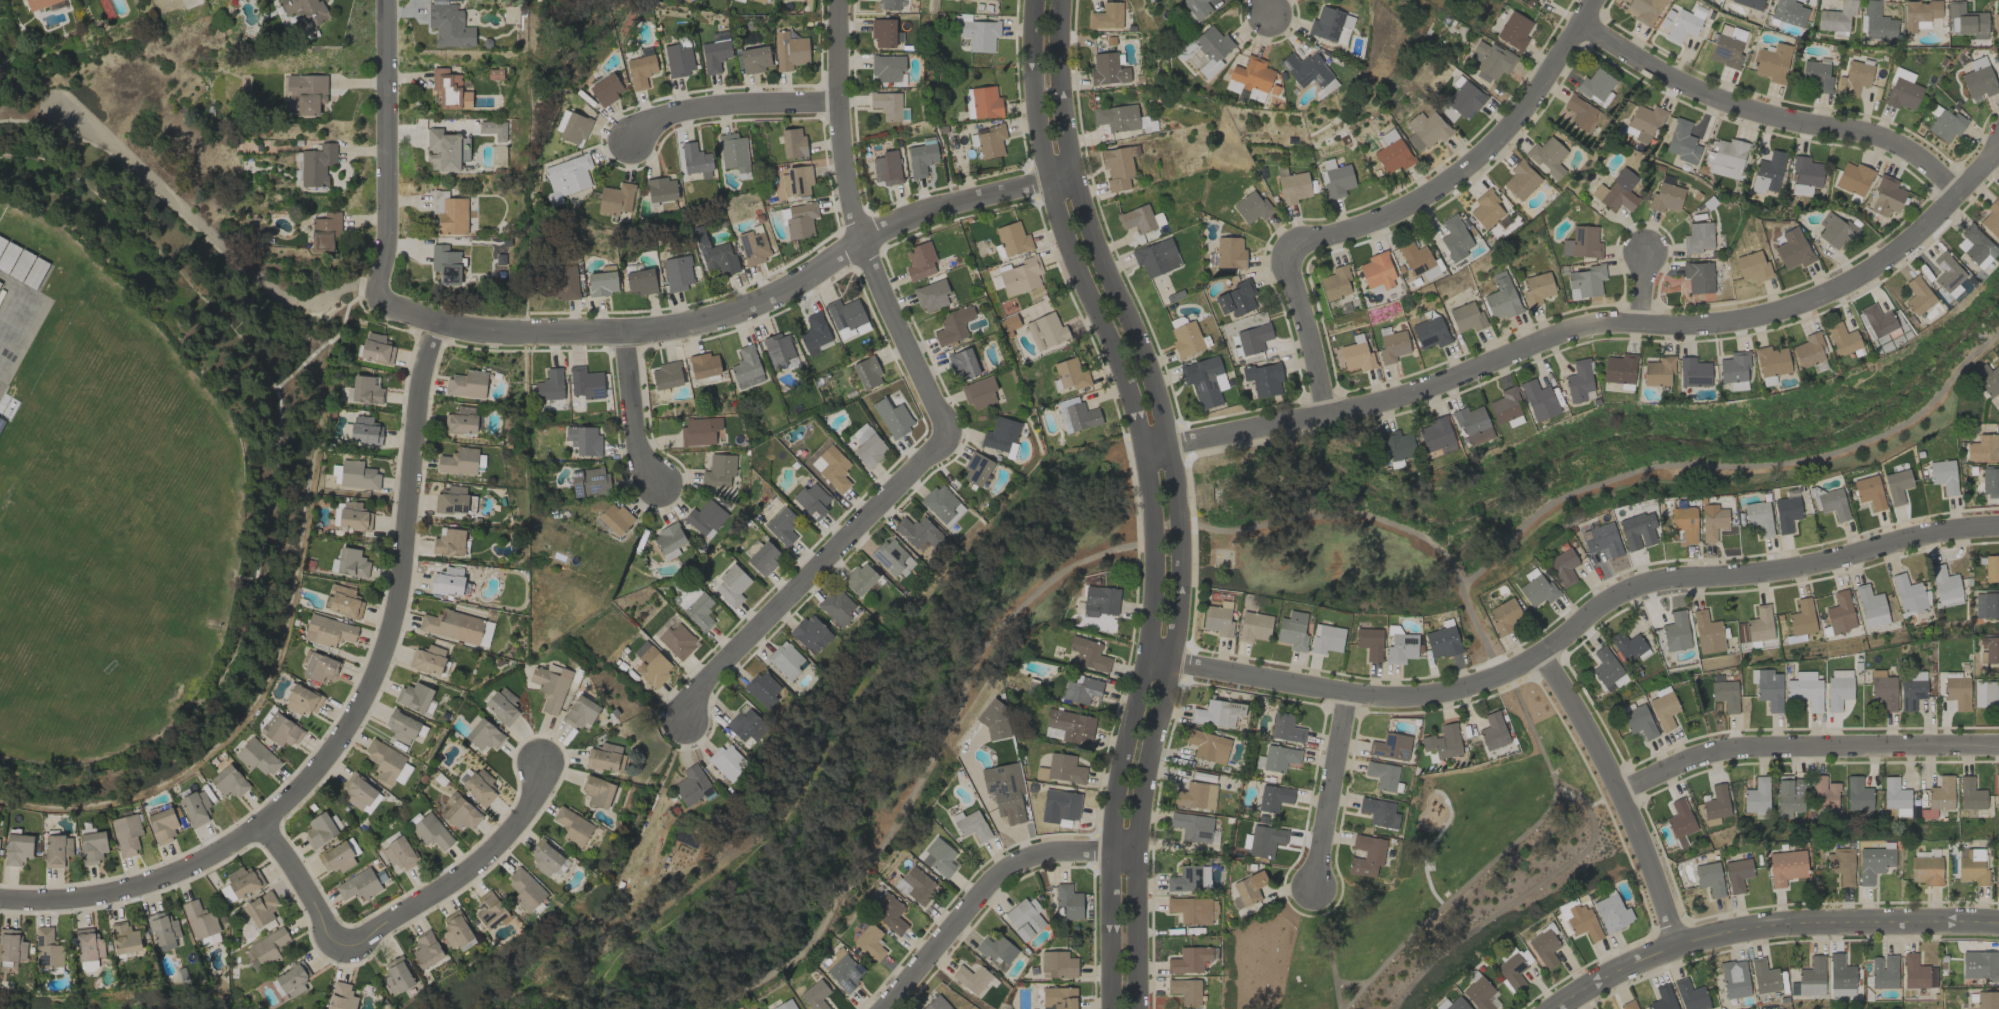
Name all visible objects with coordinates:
building: (759, 0)
building: (39, 3)
building: (1751, 3)
building: (889, 4)
building: (1197, 8)
road: (1262, 10)
building: (1644, 10)
building: (306, 12)
building: (1789, 13)
building: (1920, 14)
building: (1107, 16)
building: (1837, 17)
building: (1966, 21)
building: (1995, 22)
building: (1877, 23)
building: (449, 26)
building: (1682, 26)
building: (1514, 30)
building: (883, 32)
building: (977, 33)
building: (789, 51)
building: (1205, 51)
building: (1726, 51)
building: (715, 52)
building: (755, 59)
building: (678, 60)
building: (1490, 61)
building: (1773, 63)
building: (887, 68)
building: (640, 70)
building: (1108, 70)
building: (1308, 72)
building: (1817, 75)
building: (1854, 78)
building: (1979, 79)
building: (1595, 86)
building: (605, 89)
building: (449, 90)
building: (1902, 91)
building: (307, 93)
building: (1464, 100)
building: (986, 102)
building: (968, 103)
building: (889, 106)
road: (724, 107)
building: (1583, 114)
road: (1769, 116)
building: (1117, 118)
building: (1644, 122)
building: (1945, 124)
building: (574, 127)
building: (493, 129)
building: (1426, 130)
building: (991, 141)
building: (1682, 142)
building: (793, 143)
building: (443, 150)
building: (733, 152)
building: (1391, 152)
building: (1547, 156)
building: (921, 158)
building: (1728, 158)
building: (696, 160)
building: (317, 164)
road: (1472, 164)
building: (1118, 166)
building: (887, 168)
building: (1805, 171)
building: (1767, 173)
building: (567, 177)
building: (1854, 178)
road: (385, 179)
building: (796, 181)
building: (1336, 181)
building: (1520, 181)
building: (1293, 188)
building: (662, 189)
building: (1619, 190)
building: (1886, 196)
building: (1665, 198)
building: (615, 199)
building: (1252, 208)
building: (1486, 209)
building: (449, 213)
building: (1991, 218)
building: (1136, 219)
building: (800, 220)
road: (857, 220)
building: (325, 231)
building: (1835, 231)
road: (208, 234)
building: (1454, 238)
building: (1698, 238)
building: (1013, 239)
building: (1582, 243)
building: (1977, 246)
building: (753, 247)
building: (1792, 249)
building: (1230, 253)
building: (7, 254)
building: (715, 254)
building: (1156, 257)
building: (919, 261)
building: (1753, 267)
building: (28, 268)
building: (1377, 271)
building: (1947, 271)
building: (677, 273)
building: (1021, 276)
building: (1698, 277)
building: (641, 281)
building: (564, 282)
building: (1586, 282)
building: (602, 283)
building: (1335, 283)
road: (1641, 285)
building: (1537, 288)
building: (1949, 293)
road: (764, 295)
building: (931, 295)
building: (1918, 295)
building: (1237, 298)
building: (1502, 298)
building: (1467, 317)
building: (847, 318)
building: (1878, 321)
building: (1009, 324)
building: (953, 325)
road: (1587, 325)
building: (1046, 331)
road: (1305, 331)
building: (1430, 332)
building: (814, 334)
building: (1253, 338)
building: (1186, 339)
building: (1842, 339)
building: (1392, 346)
building: (376, 349)
building: (778, 350)
building: (1808, 350)
building: (1356, 357)
building: (1772, 361)
building: (962, 363)
building: (704, 365)
building: (1735, 367)
building: (746, 368)
building: (1620, 368)
building: (1658, 372)
building: (1693, 372)
building: (867, 373)
building: (1070, 374)
building: (666, 375)
building: (1264, 379)
building: (1987, 379)
building: (1204, 381)
building: (1578, 381)
building: (586, 383)
building: (467, 384)
building: (550, 385)
building: (365, 390)
building: (979, 392)
building: (1539, 401)
building: (1506, 408)
road: (277, 410)
road: (630, 412)
building: (1076, 415)
building: (893, 418)
building: (461, 421)
building: (1473, 425)
building: (700, 431)
building: (1001, 436)
building: (1436, 436)
building: (584, 439)
building: (867, 446)
building: (1397, 447)
building: (1983, 449)
building: (458, 461)
road: (1731, 465)
building: (832, 467)
building: (977, 469)
building: (719, 470)
building: (357, 475)
building: (1943, 476)
park: (1549, 480)
building: (589, 482)
building: (1990, 482)
building: (1897, 486)
building: (1869, 492)
road: (1176, 497)
road: (1147, 498)
building: (452, 500)
building: (812, 501)
building: (1833, 504)
building: (942, 505)
building: (1786, 513)
building: (354, 516)
building: (705, 517)
building: (615, 518)
building: (1758, 518)
road: (1381, 520)
building: (1712, 521)
building: (1684, 523)
building: (782, 526)
building: (1638, 531)
building: (919, 532)
building: (1602, 540)
building: (669, 541)
building: (449, 542)
building: (763, 558)
building: (892, 558)
building: (351, 562)
building: (1563, 567)
building: (1991, 568)
road: (803, 574)
road: (233, 575)
building: (860, 578)
building: (447, 581)
building: (730, 585)
building: (1945, 586)
building: (1536, 589)
building: (1908, 594)
building: (343, 601)
building: (1100, 601)
building: (1986, 605)
building: (837, 606)
building: (1871, 607)
building: (699, 611)
building: (1840, 613)
building: (1503, 617)
building: (1802, 618)
building: (1217, 620)
building: (1759, 624)
building: (452, 625)
road: (1572, 625)
building: (1253, 627)
building: (328, 630)
building: (1292, 630)
building: (1676, 632)
building: (485, 633)
building: (811, 633)
building: (1708, 633)
building: (1326, 639)
building: (677, 640)
building: (1442, 642)
building: (1369, 643)
building: (1759, 643)
building: (1627, 645)
building: (1401, 648)
building: (1989, 649)
building: (1088, 654)
building: (428, 659)
building: (786, 660)
building: (651, 664)
building: (320, 667)
building: (1607, 670)
building: (550, 686)
building: (1767, 688)
building: (1838, 688)
building: (762, 689)
building: (1883, 689)
building: (1081, 690)
building: (1805, 690)
building: (1956, 690)
building: (1912, 691)
building: (1991, 694)
building: (1725, 695)
building: (413, 697)
building: (303, 700)
building: (502, 706)
building: (1663, 710)
building: (580, 711)
building: (1215, 714)
building: (1637, 720)
building: (994, 722)
road: (346, 723)
building: (746, 725)
building: (403, 727)
building: (1069, 727)
building: (1285, 728)
building: (281, 730)
building: (1493, 731)
building: (484, 735)
building: (1443, 742)
building: (1208, 746)
building: (1390, 747)
road: (1803, 747)
building: (256, 757)
building: (605, 757)
building: (1277, 758)
road: (924, 761)
building: (387, 762)
building: (727, 762)
park: (843, 767)
building: (1064, 768)
building: (1382, 775)
building: (229, 781)
building: (690, 785)
building: (480, 787)
road: (1328, 787)
building: (358, 791)
building: (598, 791)
building: (1996, 791)
road: (1616, 792)
building: (1823, 794)
building: (1895, 794)
building: (1941, 794)
building: (1970, 794)
building: (1858, 795)
building: (1195, 796)
building: (1757, 796)
building: (1790, 796)
building: (1273, 797)
building: (1008, 804)
building: (1059, 805)
building: (1716, 805)
building: (195, 808)
building: (1377, 811)
building: (461, 812)
building: (1680, 822)
building: (162, 825)
building: (971, 825)
building: (572, 826)
building: (1192, 827)
building: (319, 830)
building: (431, 832)
building: (126, 834)
building: (1265, 840)
building: (92, 846)
building: (17, 848)
building: (57, 850)
building: (399, 853)
building: (1926, 853)
building: (1366, 855)
building: (337, 857)
building: (545, 857)
building: (939, 858)
building: (1874, 862)
building: (1841, 865)
building: (1971, 866)
building: (1786, 867)
building: (1996, 867)
building: (1925, 870)
road: (459, 875)
building: (1737, 875)
park: (1445, 878)
building: (1709, 878)
building: (1186, 879)
building: (243, 881)
road: (304, 884)
building: (358, 885)
building: (914, 885)
road: (984, 888)
building: (525, 889)
building: (1248, 889)
building: (1068, 902)
building: (488, 907)
building: (261, 908)
building: (1193, 910)
building: (888, 912)
building: (1612, 913)
building: (1025, 918)
building: (199, 919)
building: (1579, 921)
road: (1768, 927)
building: (163, 930)
building: (456, 932)
building: (124, 938)
building: (868, 940)
building: (11, 945)
building: (269, 946)
building: (88, 947)
building: (47, 948)
building: (1544, 948)
building: (426, 949)
building: (995, 950)
building: (1189, 960)
building: (1057, 965)
building: (1980, 965)
building: (1514, 969)
building: (844, 970)
building: (1883, 971)
building: (1914, 972)
building: (1764, 977)
building: (1812, 977)
building: (1841, 977)
building: (397, 978)
building: (971, 978)
building: (1734, 979)
building: (292, 980)
building: (1185, 990)
building: (1479, 993)
building: (1691, 995)
building: (341, 996)
building: (817, 996)
park: (126, 998)
building: (1059, 998)
building: (1662, 998)
building: (1987, 1000)
building: (937, 1003)
building: (1452, 1004)
building: (785, 1005)
building: (1629, 1005)

